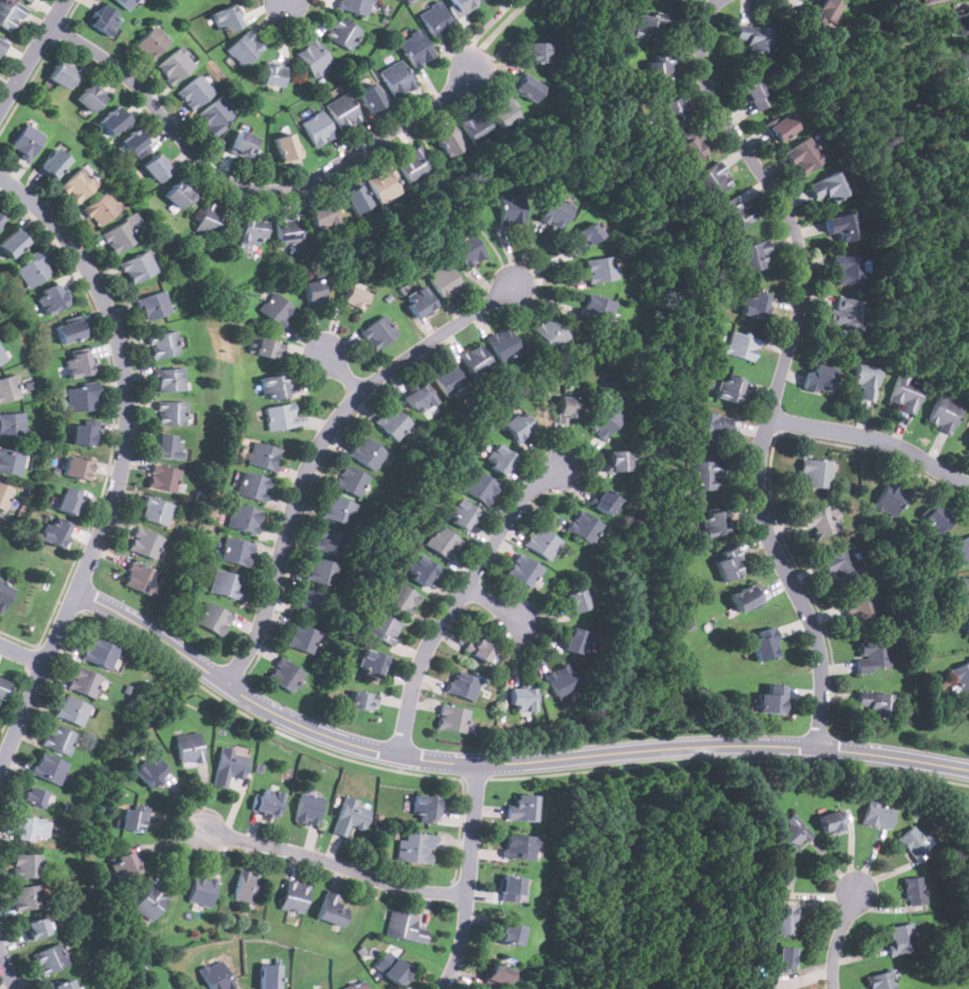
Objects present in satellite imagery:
building: (28, 0)
building: (29, 0)
building: (676, 0)
building: (928, 0)
road: (288, 2)
building: (127, 3)
building: (462, 5)
building: (355, 6)
building: (824, 11)
building: (9, 15)
building: (226, 18)
building: (104, 19)
building: (436, 19)
building: (962, 21)
building: (651, 27)
road: (495, 31)
building: (341, 32)
building: (751, 36)
building: (151, 42)
building: (1, 44)
building: (245, 48)
building: (416, 48)
building: (537, 52)
road: (33, 54)
building: (313, 56)
building: (964, 64)
building: (175, 66)
building: (659, 68)
building: (63, 74)
building: (273, 74)
building: (396, 78)
building: (527, 88)
building: (194, 92)
building: (756, 94)
building: (91, 97)
building: (371, 97)
building: (343, 111)
building: (670, 111)
building: (504, 114)
building: (216, 115)
building: (114, 120)
building: (782, 127)
building: (318, 128)
building: (476, 128)
building: (26, 140)
building: (448, 141)
building: (137, 144)
building: (243, 144)
building: (691, 145)
building: (286, 147)
building: (804, 155)
building: (53, 163)
building: (413, 166)
building: (157, 168)
building: (712, 180)
building: (383, 184)
building: (78, 185)
building: (829, 186)
road: (250, 188)
building: (180, 195)
building: (356, 199)
building: (100, 209)
building: (511, 209)
building: (555, 212)
building: (732, 214)
building: (323, 216)
building: (1, 218)
building: (210, 220)
building: (842, 226)
building: (288, 230)
building: (253, 231)
building: (121, 234)
building: (588, 234)
building: (13, 242)
building: (468, 249)
building: (754, 254)
building: (138, 266)
building: (600, 269)
building: (848, 269)
building: (34, 270)
building: (444, 281)
building: (314, 293)
building: (51, 298)
building: (354, 298)
building: (420, 301)
building: (758, 304)
building: (154, 305)
building: (597, 308)
building: (276, 309)
building: (847, 312)
building: (69, 330)
building: (378, 332)
building: (551, 333)
building: (163, 344)
building: (503, 344)
building: (742, 346)
building: (267, 348)
building: (2, 356)
building: (476, 362)
building: (78, 364)
road: (783, 365)
road: (343, 372)
building: (820, 377)
building: (447, 378)
building: (169, 379)
building: (865, 380)
building: (274, 387)
building: (8, 388)
building: (730, 389)
building: (906, 391)
building: (80, 398)
building: (420, 398)
building: (567, 408)
building: (170, 413)
building: (943, 413)
building: (280, 416)
building: (603, 421)
building: (392, 422)
building: (11, 424)
building: (518, 426)
building: (711, 426)
building: (82, 434)
road: (874, 437)
road: (320, 444)
building: (168, 446)
building: (367, 453)
building: (263, 455)
building: (500, 460)
building: (10, 461)
building: (618, 461)
road: (123, 466)
building: (77, 468)
building: (814, 473)
building: (705, 475)
building: (163, 478)
building: (349, 480)
building: (253, 486)
building: (481, 488)
building: (72, 492)
building: (4, 496)
building: (891, 498)
building: (604, 502)
building: (69, 503)
building: (338, 510)
building: (156, 511)
building: (461, 513)
building: (244, 518)
building: (934, 520)
building: (820, 521)
building: (714, 523)
building: (584, 527)
building: (54, 532)
building: (328, 541)
building: (443, 542)
building: (145, 543)
building: (542, 543)
building: (962, 551)
building: (237, 552)
building: (729, 564)
building: (841, 565)
building: (523, 570)
building: (422, 571)
building: (321, 572)
building: (139, 578)
building: (226, 584)
building: (962, 591)
building: (5, 594)
building: (746, 598)
building: (402, 599)
road: (457, 599)
building: (574, 601)
building: (313, 603)
road: (494, 604)
building: (861, 610)
building: (214, 618)
building: (968, 624)
building: (382, 628)
building: (301, 638)
building: (577, 640)
building: (765, 644)
building: (480, 650)
building: (99, 653)
road: (22, 654)
building: (872, 655)
building: (372, 663)
building: (284, 674)
building: (961, 677)
building: (83, 682)
building: (561, 682)
building: (463, 685)
building: (3, 688)
building: (362, 700)
building: (522, 700)
building: (773, 700)
building: (875, 703)
building: (71, 711)
building: (452, 718)
building: (59, 739)
building: (189, 748)
road: (503, 763)
building: (229, 766)
building: (48, 767)
building: (150, 771)
building: (33, 797)
building: (269, 802)
building: (308, 808)
building: (426, 808)
building: (522, 809)
building: (878, 815)
building: (350, 816)
building: (133, 817)
building: (832, 822)
building: (27, 828)
building: (791, 835)
building: (913, 843)
building: (519, 847)
building: (415, 848)
building: (26, 865)
road: (339, 865)
building: (124, 866)
building: (780, 878)
road: (472, 879)
building: (247, 887)
building: (513, 889)
building: (202, 890)
building: (914, 890)
building: (27, 897)
building: (293, 897)
building: (150, 903)
building: (332, 909)
building: (786, 920)
building: (405, 927)
building: (34, 930)
building: (509, 934)
road: (839, 938)
building: (901, 939)
building: (49, 959)
building: (786, 959)
building: (395, 968)
road: (8, 969)
building: (215, 976)
building: (269, 976)
building: (496, 977)
building: (880, 981)
building: (62, 984)
building: (357, 985)

